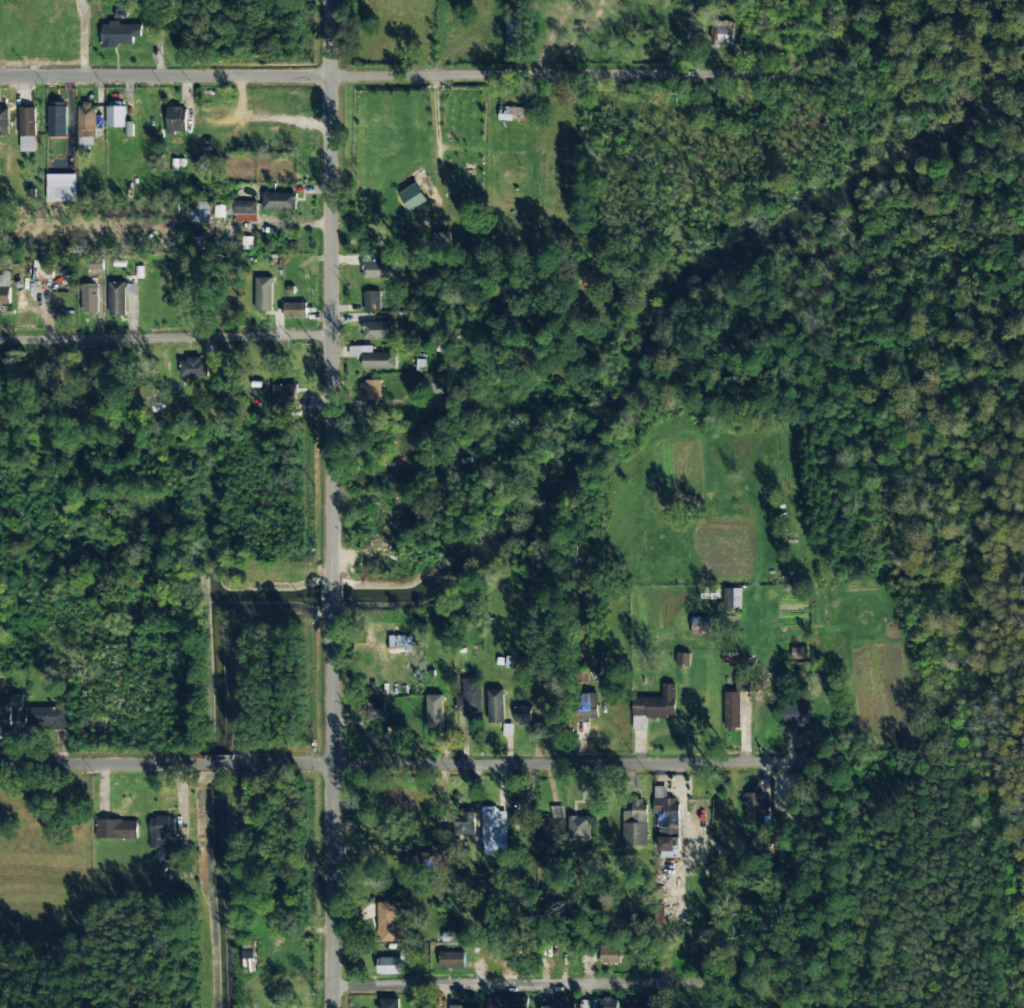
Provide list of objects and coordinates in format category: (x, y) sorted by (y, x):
building: (722, 33)
building: (119, 34)
road: (330, 40)
road: (497, 77)
road: (165, 80)
building: (514, 112)
building: (115, 114)
building: (57, 118)
building: (176, 119)
building: (87, 120)
building: (4, 121)
building: (27, 129)
building: (61, 188)
building: (412, 196)
building: (279, 201)
building: (241, 207)
building: (198, 212)
building: (378, 270)
building: (264, 294)
building: (5, 296)
building: (120, 296)
building: (88, 298)
building: (371, 301)
building: (294, 310)
road: (331, 326)
building: (379, 329)
road: (166, 339)
building: (379, 360)
building: (195, 367)
building: (434, 383)
building: (373, 390)
building: (284, 400)
road: (329, 594)
building: (732, 598)
building: (400, 644)
building: (798, 652)
building: (683, 659)
building: (469, 696)
building: (735, 701)
building: (494, 705)
building: (653, 707)
building: (8, 711)
building: (373, 711)
building: (434, 711)
building: (796, 714)
building: (522, 715)
building: (51, 716)
road: (216, 764)
road: (524, 764)
road: (99, 765)
building: (663, 800)
building: (755, 808)
road: (329, 812)
building: (463, 824)
building: (634, 824)
building: (553, 828)
building: (578, 828)
building: (116, 829)
building: (493, 831)
building: (161, 837)
building: (669, 840)
building: (429, 859)
building: (390, 922)
building: (248, 949)
building: (609, 953)
building: (451, 960)
building: (388, 965)
road: (517, 986)
building: (510, 1002)
building: (389, 1003)
building: (564, 1003)
building: (598, 1003)
building: (635, 1004)
building: (463, 1007)

